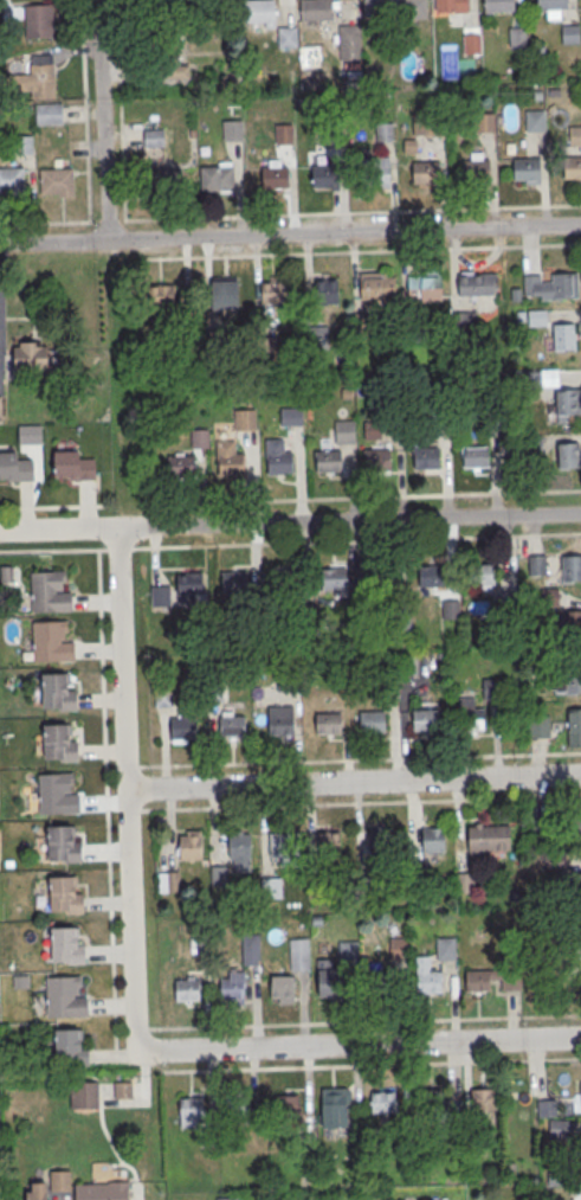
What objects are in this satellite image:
building: (499, 5)
building: (553, 5)
building: (451, 6)
building: (373, 7)
building: (414, 8)
building: (315, 11)
building: (260, 12)
building: (38, 20)
building: (570, 34)
building: (288, 38)
building: (518, 38)
building: (350, 43)
building: (472, 45)
building: (159, 46)
building: (41, 79)
building: (28, 111)
building: (50, 115)
building: (535, 121)
road: (102, 122)
building: (485, 122)
building: (421, 124)
building: (433, 126)
building: (233, 130)
building: (383, 131)
building: (284, 134)
building: (333, 136)
building: (575, 136)
building: (155, 137)
building: (22, 146)
road: (86, 155)
building: (573, 167)
building: (477, 171)
building: (527, 171)
building: (376, 172)
building: (426, 173)
building: (325, 177)
building: (217, 178)
building: (276, 178)
building: (12, 181)
building: (166, 181)
building: (58, 182)
road: (293, 216)
road: (290, 236)
road: (357, 252)
building: (476, 283)
building: (551, 284)
building: (376, 285)
building: (424, 287)
building: (275, 291)
building: (327, 291)
building: (226, 294)
building: (160, 300)
building: (414, 332)
building: (562, 335)
building: (317, 338)
building: (217, 339)
building: (30, 353)
building: (529, 381)
building: (566, 402)
building: (0, 411)
building: (292, 417)
building: (245, 421)
building: (344, 431)
building: (30, 435)
building: (200, 438)
building: (567, 455)
building: (476, 457)
building: (278, 458)
building: (425, 458)
building: (230, 460)
building: (377, 460)
building: (328, 462)
building: (73, 467)
building: (182, 467)
building: (15, 468)
road: (290, 500)
road: (290, 522)
road: (290, 544)
building: (536, 565)
building: (570, 567)
building: (480, 575)
building: (432, 576)
building: (334, 578)
building: (382, 578)
building: (285, 580)
building: (234, 582)
building: (191, 583)
building: (50, 593)
building: (160, 595)
building: (450, 608)
building: (572, 622)
building: (51, 642)
building: (573, 680)
building: (490, 688)
building: (57, 692)
building: (471, 719)
building: (425, 720)
building: (280, 721)
building: (373, 721)
building: (328, 724)
building: (233, 726)
building: (538, 726)
building: (574, 726)
building: (183, 727)
building: (59, 743)
road: (360, 759)
road: (355, 782)
road: (129, 791)
building: (57, 795)
road: (355, 804)
road: (106, 807)
building: (577, 824)
building: (482, 838)
building: (434, 840)
building: (381, 842)
building: (64, 845)
building: (289, 845)
building: (240, 846)
building: (330, 846)
building: (191, 848)
building: (555, 861)
building: (417, 874)
building: (218, 875)
building: (369, 879)
building: (168, 881)
building: (466, 884)
building: (576, 884)
building: (319, 886)
building: (271, 888)
building: (66, 896)
building: (577, 942)
building: (67, 945)
building: (251, 950)
building: (447, 950)
building: (350, 952)
building: (298, 955)
building: (478, 981)
building: (430, 984)
building: (579, 984)
building: (331, 986)
building: (381, 986)
building: (283, 987)
building: (233, 989)
building: (187, 990)
building: (65, 999)
road: (364, 1023)
road: (363, 1045)
building: (71, 1048)
road: (372, 1066)
building: (125, 1090)
building: (84, 1095)
building: (580, 1095)
building: (334, 1099)
building: (484, 1100)
building: (432, 1102)
building: (383, 1103)
building: (289, 1106)
building: (239, 1108)
building: (193, 1109)
building: (544, 1109)
building: (559, 1129)
building: (577, 1143)
building: (60, 1181)
building: (37, 1191)
building: (103, 1192)
building: (228, 1199)

